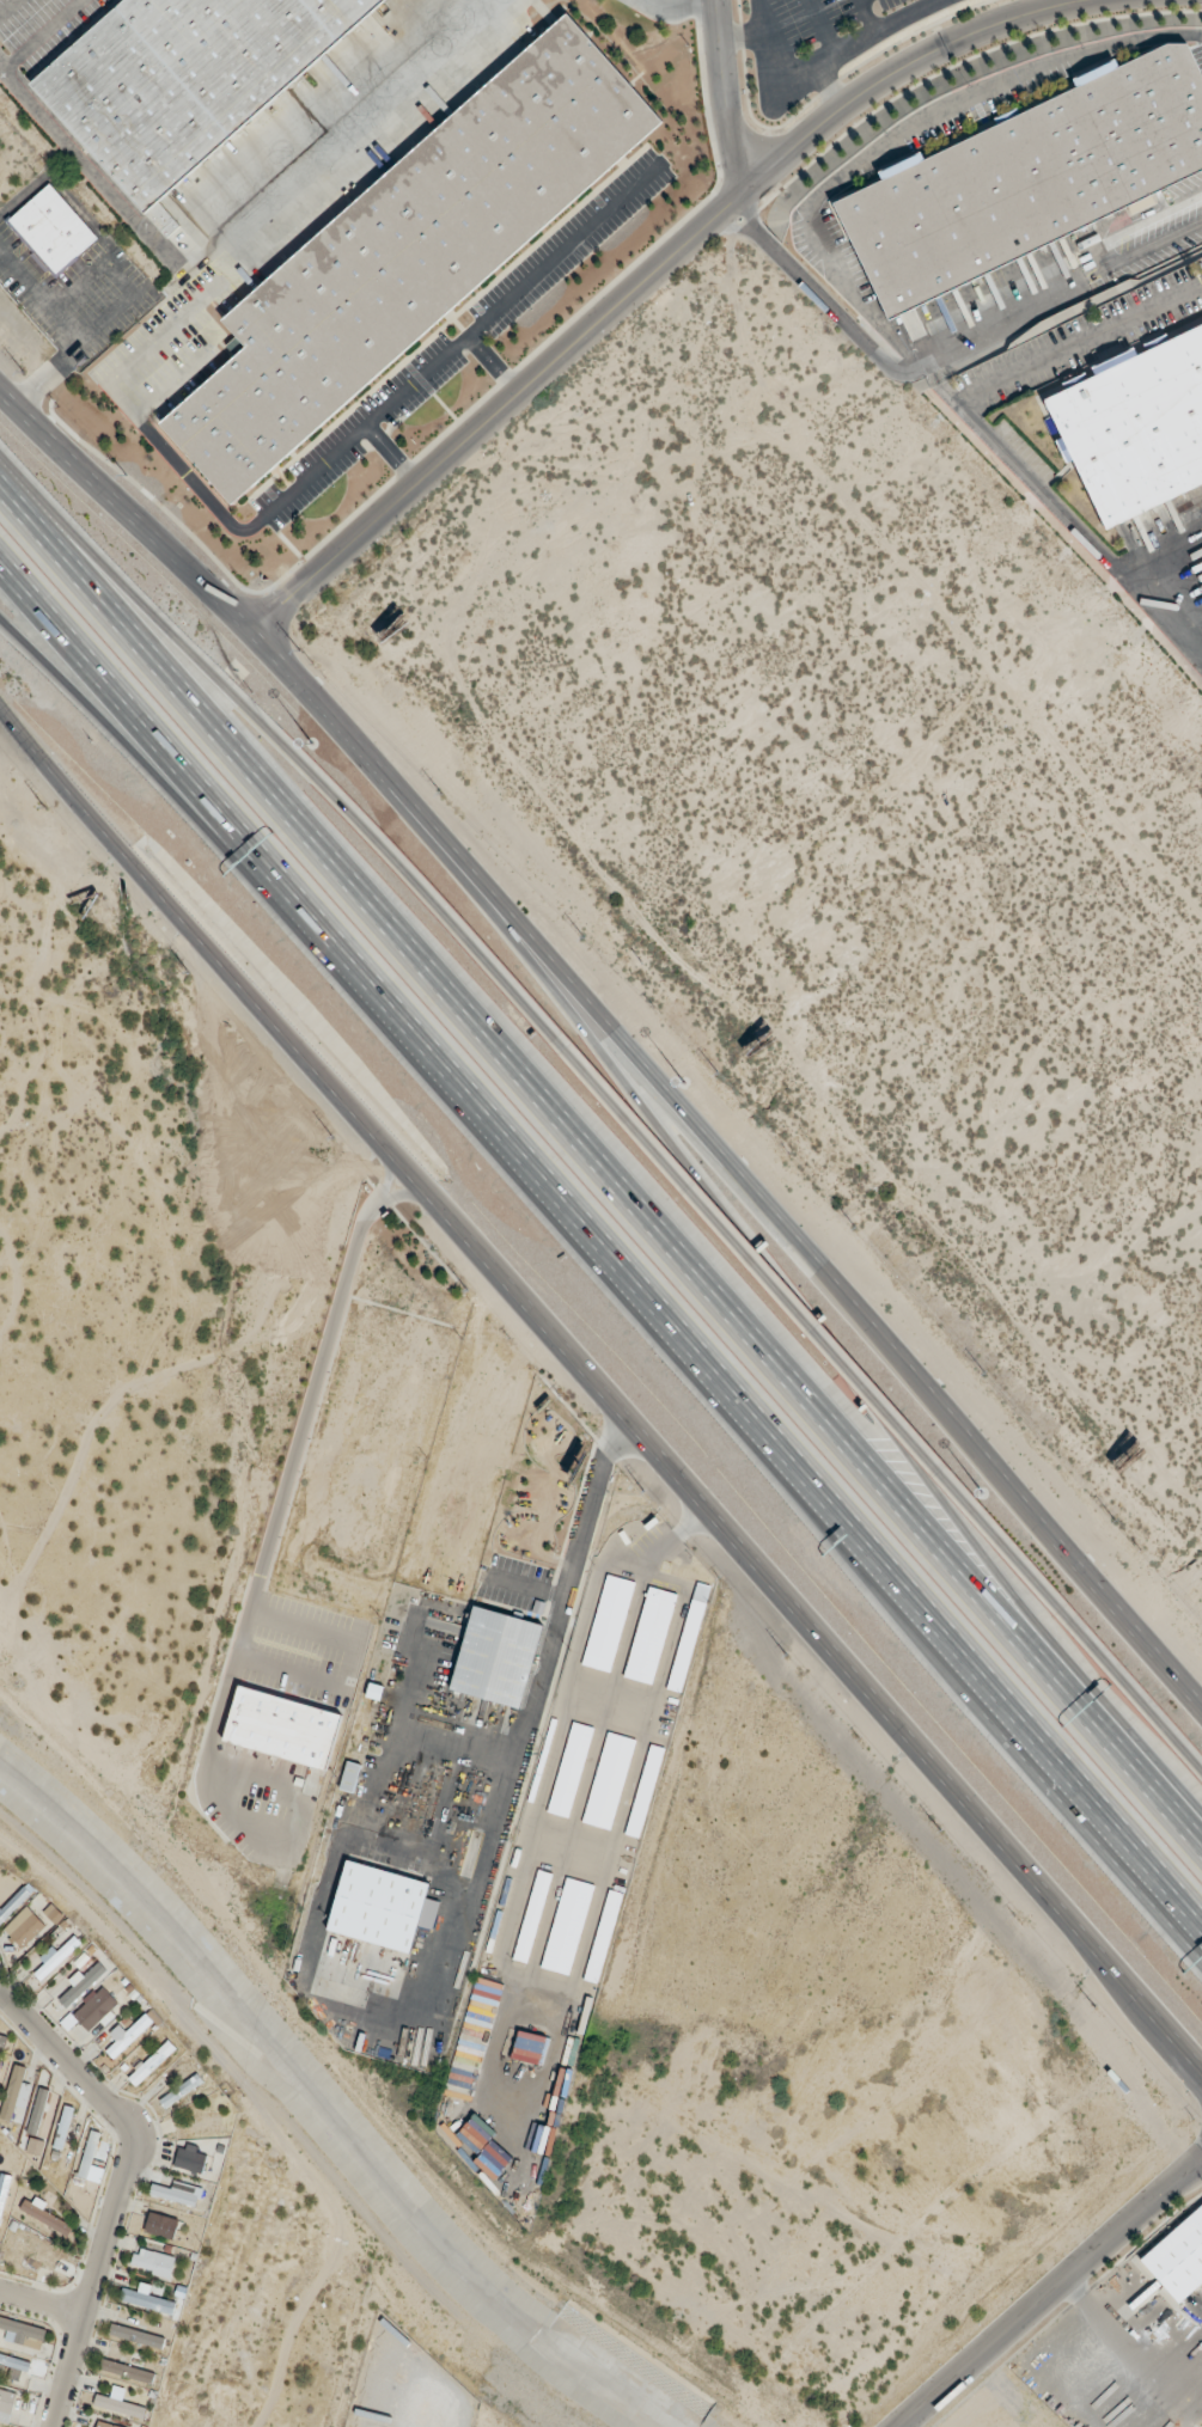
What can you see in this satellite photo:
road: (7, 6)
building: (343, 13)
road: (39, 35)
building: (234, 48)
road: (724, 91)
building: (132, 111)
road: (91, 171)
building: (1029, 178)
building: (50, 230)
building: (409, 252)
road: (645, 273)
road: (1090, 336)
road: (493, 362)
road: (171, 380)
building: (1135, 422)
road: (392, 453)
road: (321, 464)
road: (1173, 557)
road: (292, 752)
road: (233, 856)
road: (615, 1035)
road: (599, 1164)
road: (605, 1239)
road: (820, 1333)
road: (598, 1392)
road: (874, 1410)
road: (279, 1504)
building: (608, 1624)
building: (649, 1636)
building: (685, 1646)
building: (495, 1657)
road: (1137, 1694)
road: (526, 1724)
building: (281, 1728)
building: (569, 1769)
building: (349, 1777)
building: (608, 1781)
building: (645, 1791)
building: (377, 1907)
building: (531, 1916)
building: (567, 1926)
building: (23, 1927)
building: (603, 1936)
building: (53, 1958)
building: (80, 1983)
building: (94, 2010)
building: (126, 2035)
building: (0, 2062)
building: (151, 2062)
building: (179, 2090)
building: (12, 2092)
building: (36, 2110)
building: (201, 2126)
building: (61, 2132)
building: (189, 2158)
building: (90, 2159)
building: (2, 2189)
building: (172, 2195)
road: (108, 2206)
building: (43, 2217)
building: (160, 2225)
building: (33, 2254)
building: (1178, 2257)
building: (152, 2262)
road: (1051, 2295)
building: (146, 2299)
road: (38, 2307)
building: (20, 2334)
building: (136, 2336)
building: (12, 2367)
building: (124, 2371)
building: (6, 2404)
building: (118, 2404)
building: (102, 2425)

